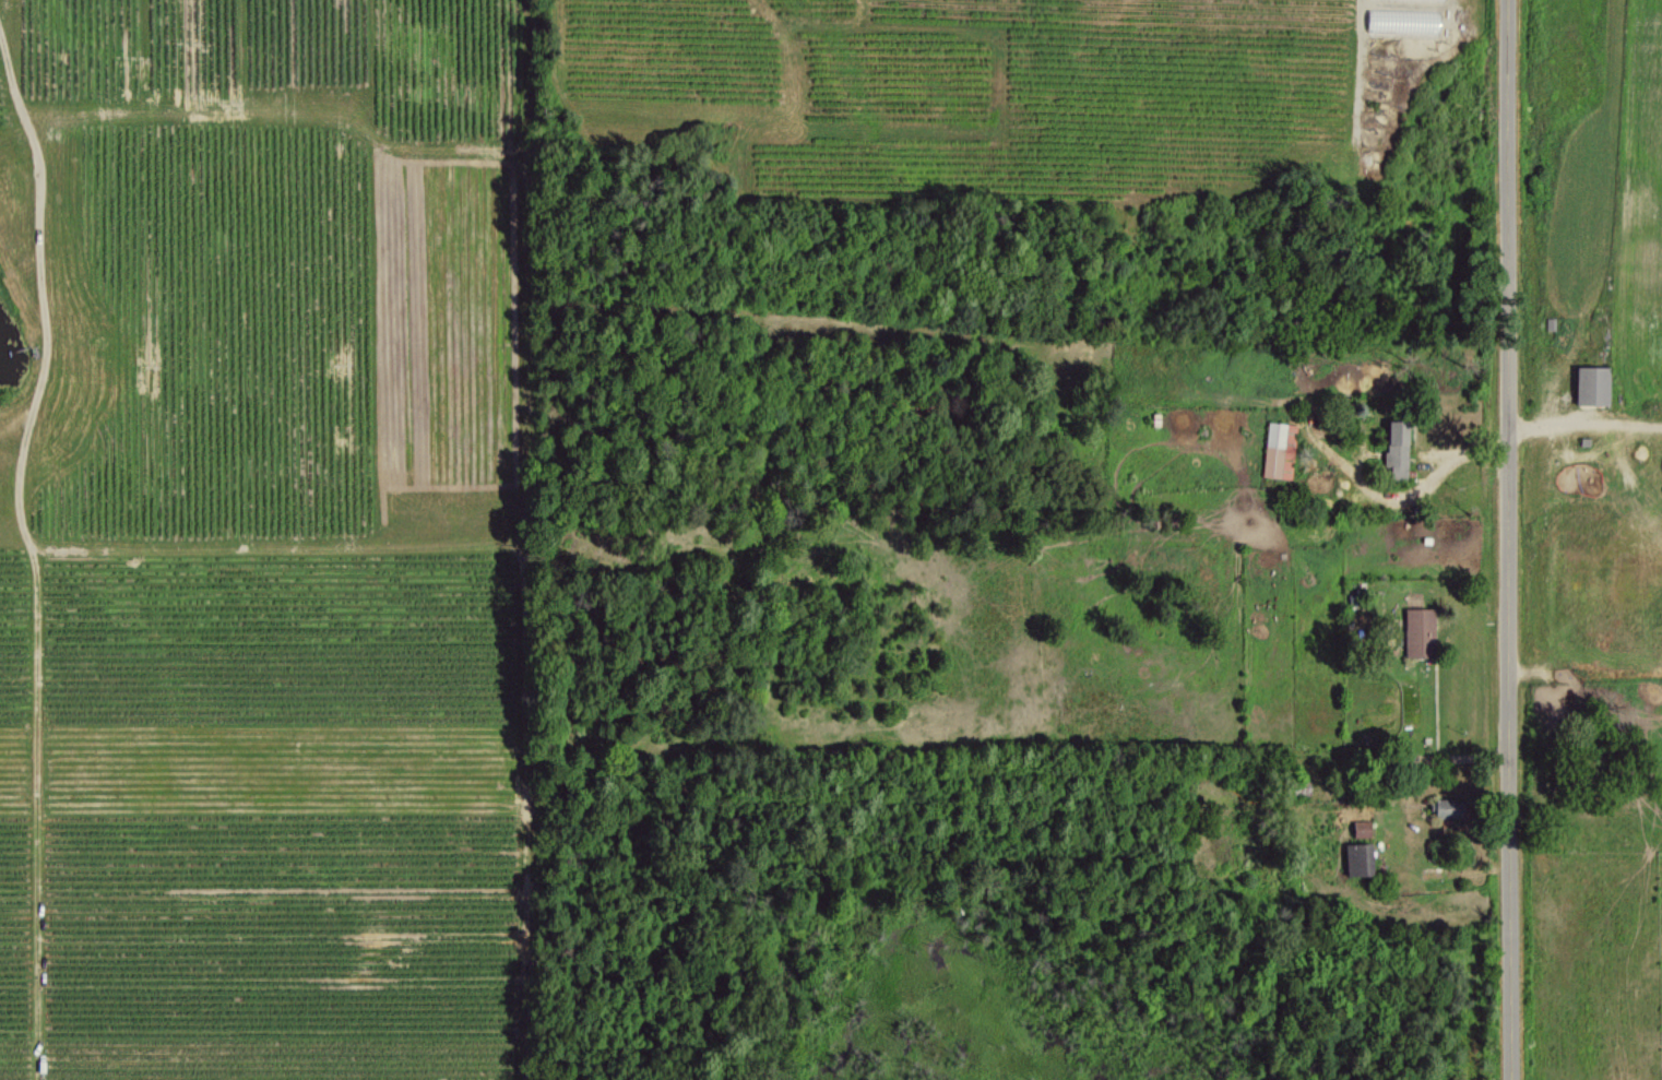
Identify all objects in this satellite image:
road: (1361, 3)
building: (1401, 20)
building: (1589, 385)
road: (1587, 419)
building: (1396, 449)
building: (1278, 450)
road: (1513, 539)
building: (1418, 632)
building: (1447, 807)
building: (1360, 828)
building: (1357, 857)

